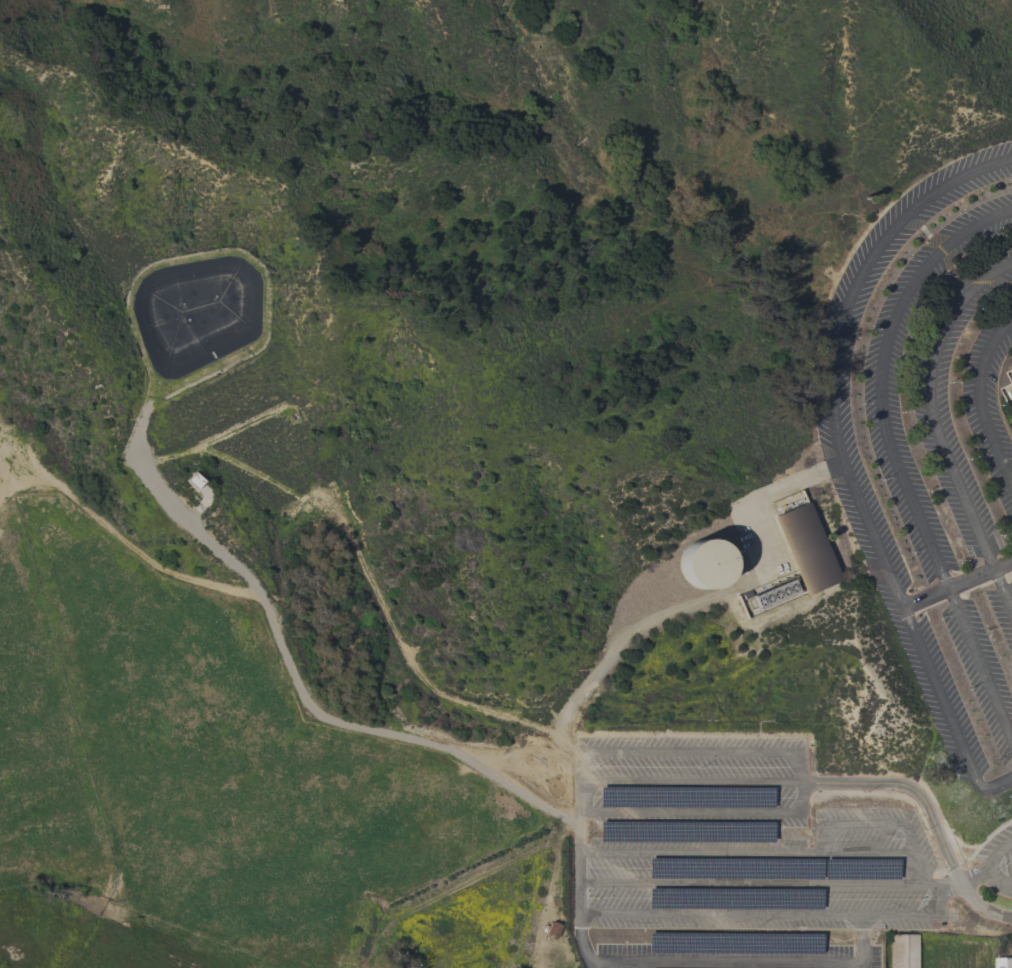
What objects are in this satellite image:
street lamp: (958, 213)
road: (924, 232)
street lamp: (1004, 234)
street lamp: (907, 257)
street lamp: (943, 276)
road: (1003, 295)
street lamp: (868, 329)
street lamp: (906, 340)
road: (235, 358)
building: (1011, 374)
street lamp: (860, 405)
road: (980, 405)
street lamp: (901, 413)
parking lot: (1011, 426)
road: (935, 434)
parking lot: (932, 445)
road: (835, 446)
road: (891, 459)
street lamp: (725, 507)
road: (126, 547)
building: (792, 558)
building: (704, 563)
road: (363, 567)
street lamp: (775, 578)
road: (956, 584)
road: (958, 593)
road: (716, 598)
road: (395, 736)
street lamp: (754, 737)
street lamp: (652, 738)
road: (689, 752)
street lamp: (598, 767)
street lamp: (700, 768)
road: (994, 780)
road: (688, 781)
road: (797, 784)
street lamp: (866, 792)
building: (685, 796)
street lamp: (872, 808)
road: (927, 813)
road: (688, 814)
road: (878, 824)
street lamp: (923, 831)
road: (986, 837)
road: (824, 839)
road: (745, 853)
road: (578, 860)
parking lot: (739, 860)
road: (963, 860)
parking lot: (996, 862)
road: (990, 864)
road: (949, 867)
road: (916, 869)
road: (962, 879)
road: (758, 884)
street lamp: (980, 896)
street lamp: (597, 899)
road: (765, 914)
building: (553, 930)
street lamp: (871, 934)
road: (862, 941)
building: (903, 951)
road: (725, 962)
building: (1003, 962)

